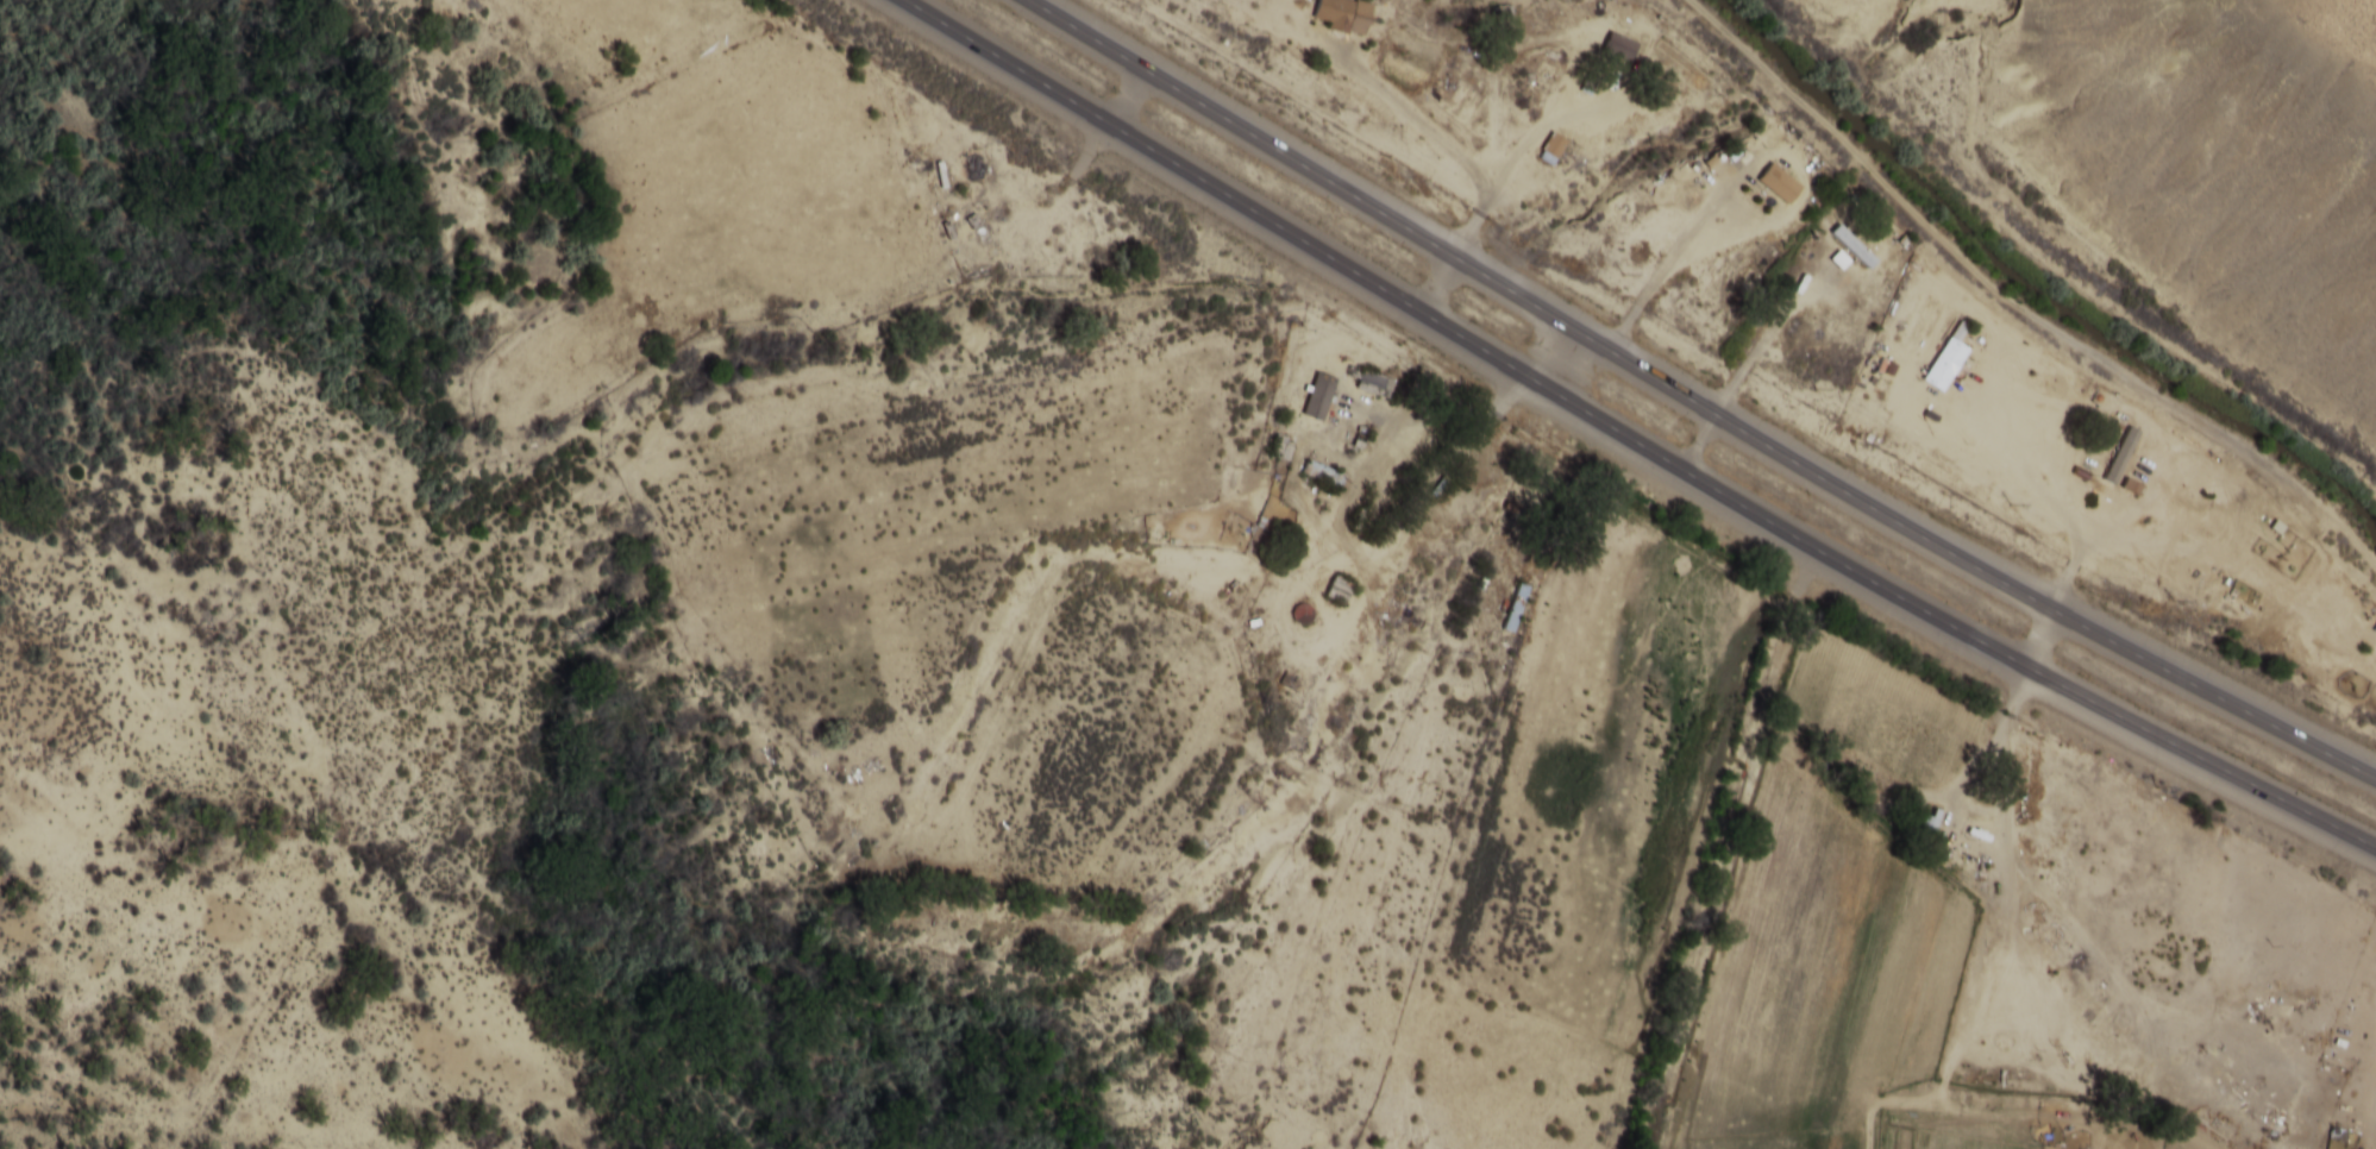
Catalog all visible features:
building: (1343, 15)
building: (1619, 48)
building: (1554, 145)
building: (976, 168)
building: (1858, 255)
building: (1948, 356)
building: (1321, 396)
road: (1693, 401)
road: (1629, 439)
building: (1516, 607)

